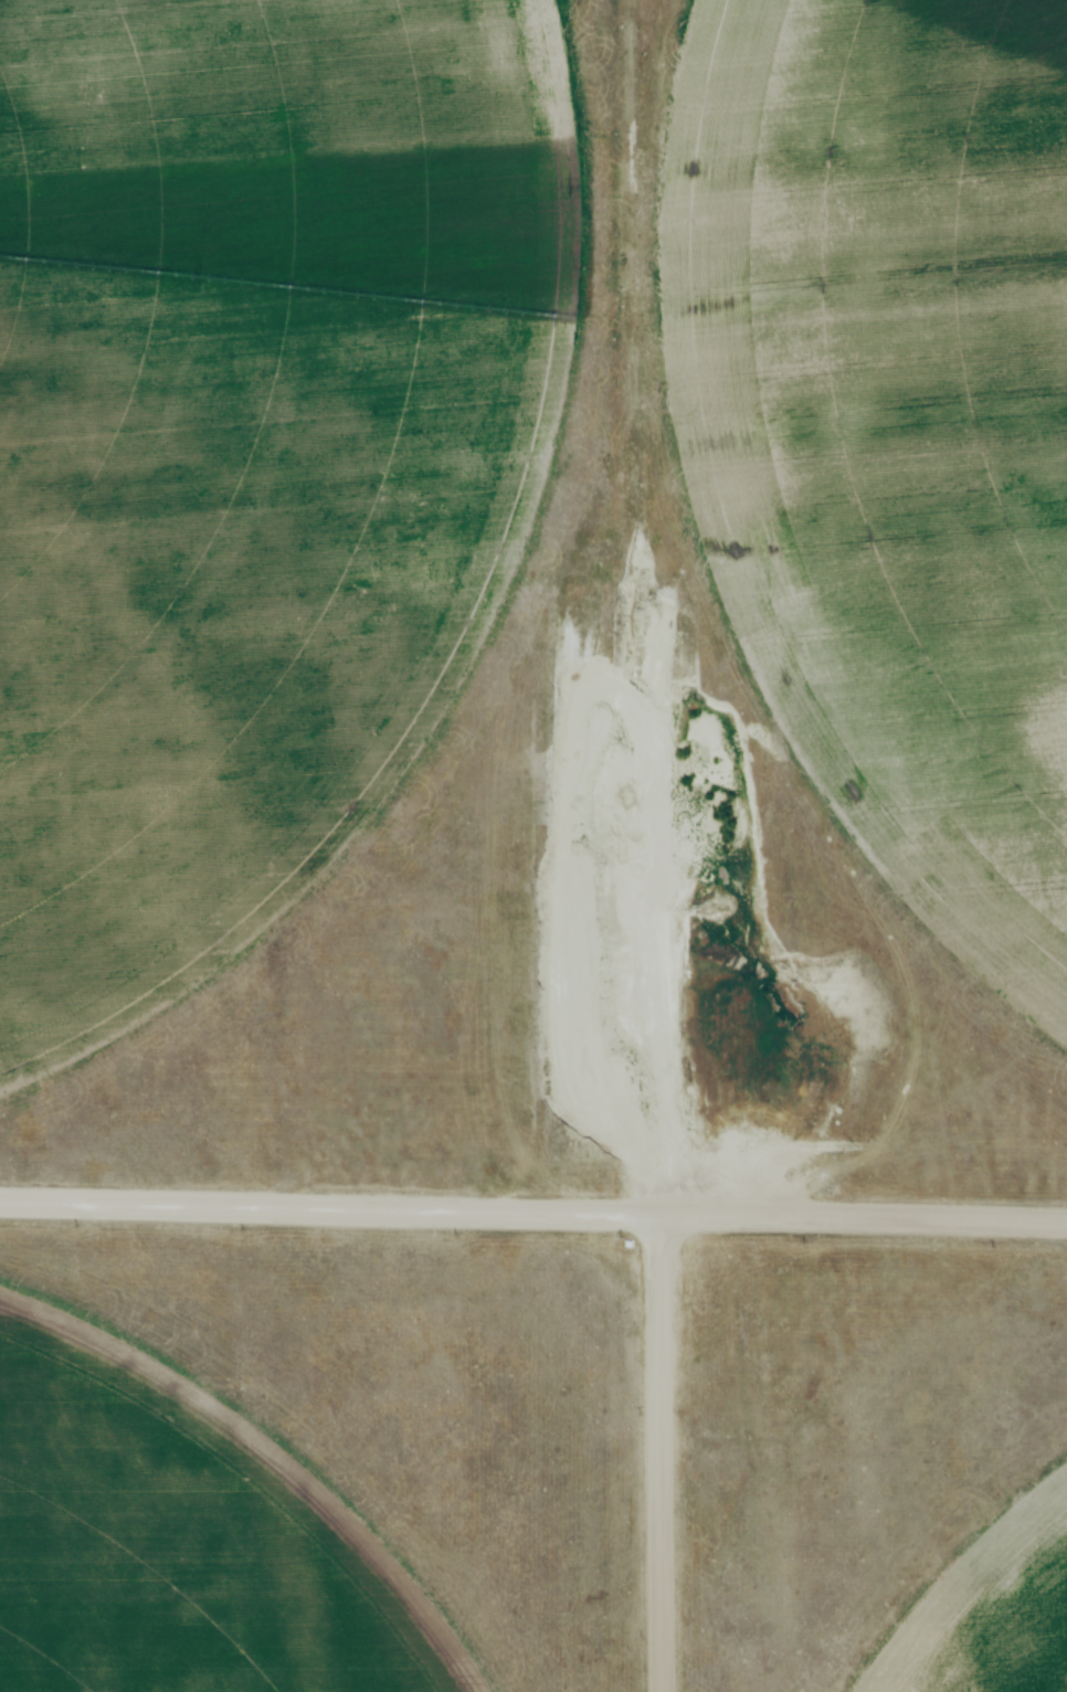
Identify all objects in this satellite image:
crop: (888, 426)
crop: (245, 450)
road: (533, 1212)
road: (655, 1453)
crop: (177, 1543)
crop: (985, 1600)

